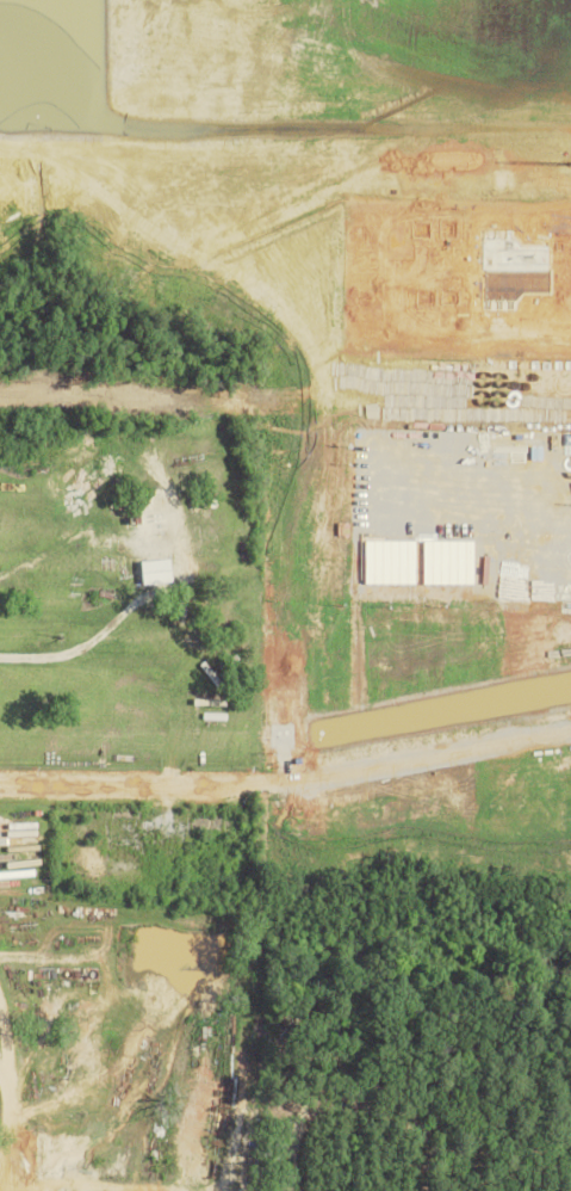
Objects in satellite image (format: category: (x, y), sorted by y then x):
building: (160, 569)
road: (103, 783)

